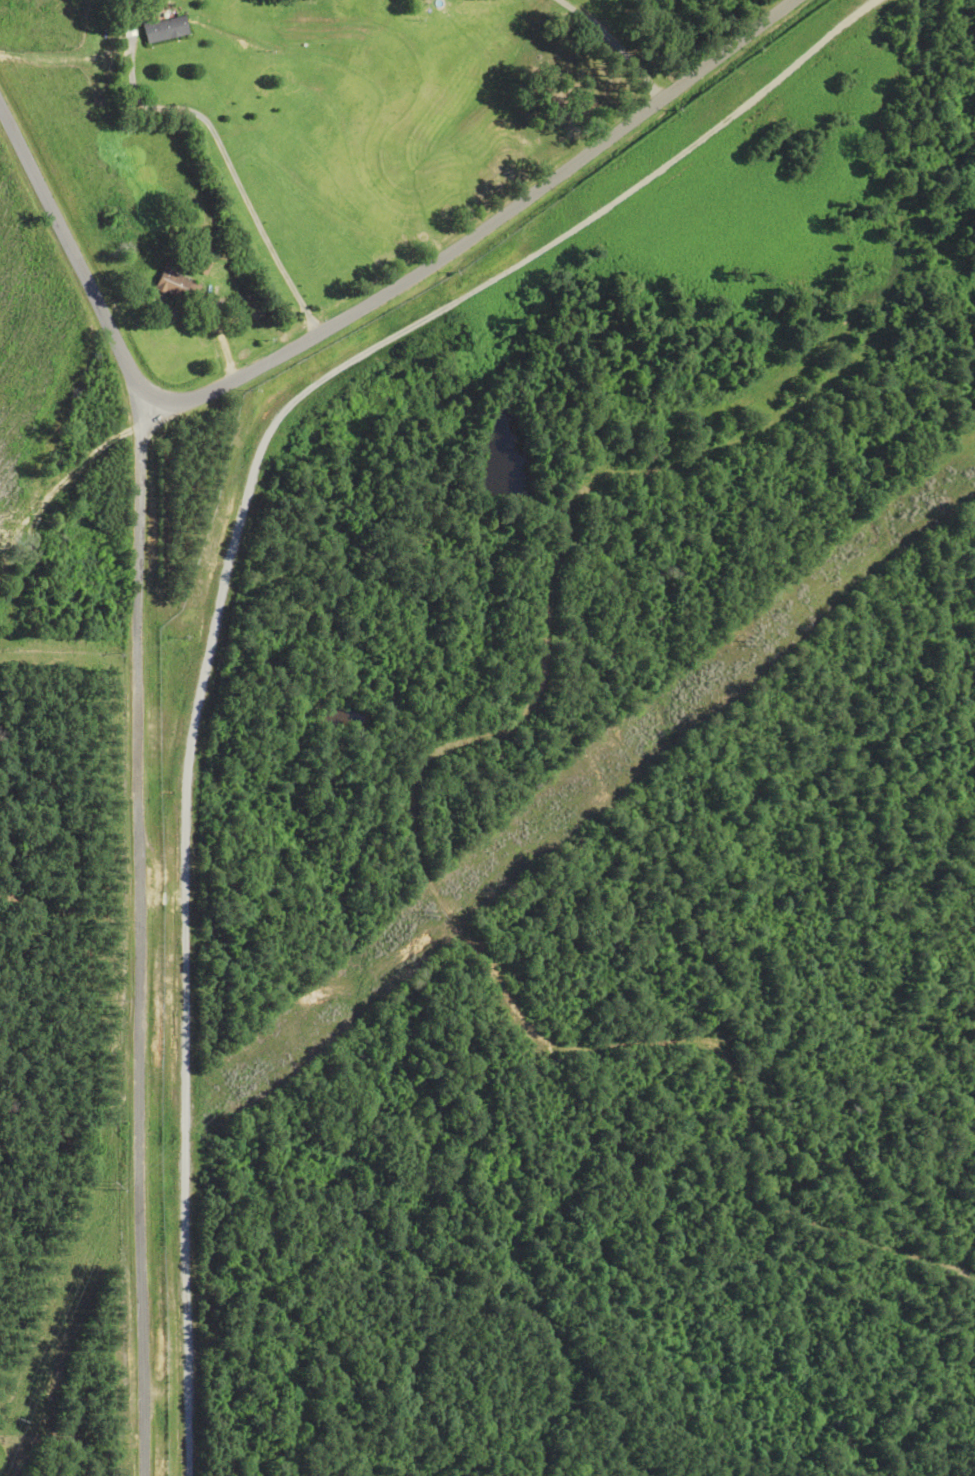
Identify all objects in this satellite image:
building: (167, 28)
road: (617, 45)
road: (199, 118)
road: (486, 225)
road: (74, 244)
building: (202, 266)
building: (177, 283)
road: (143, 932)

